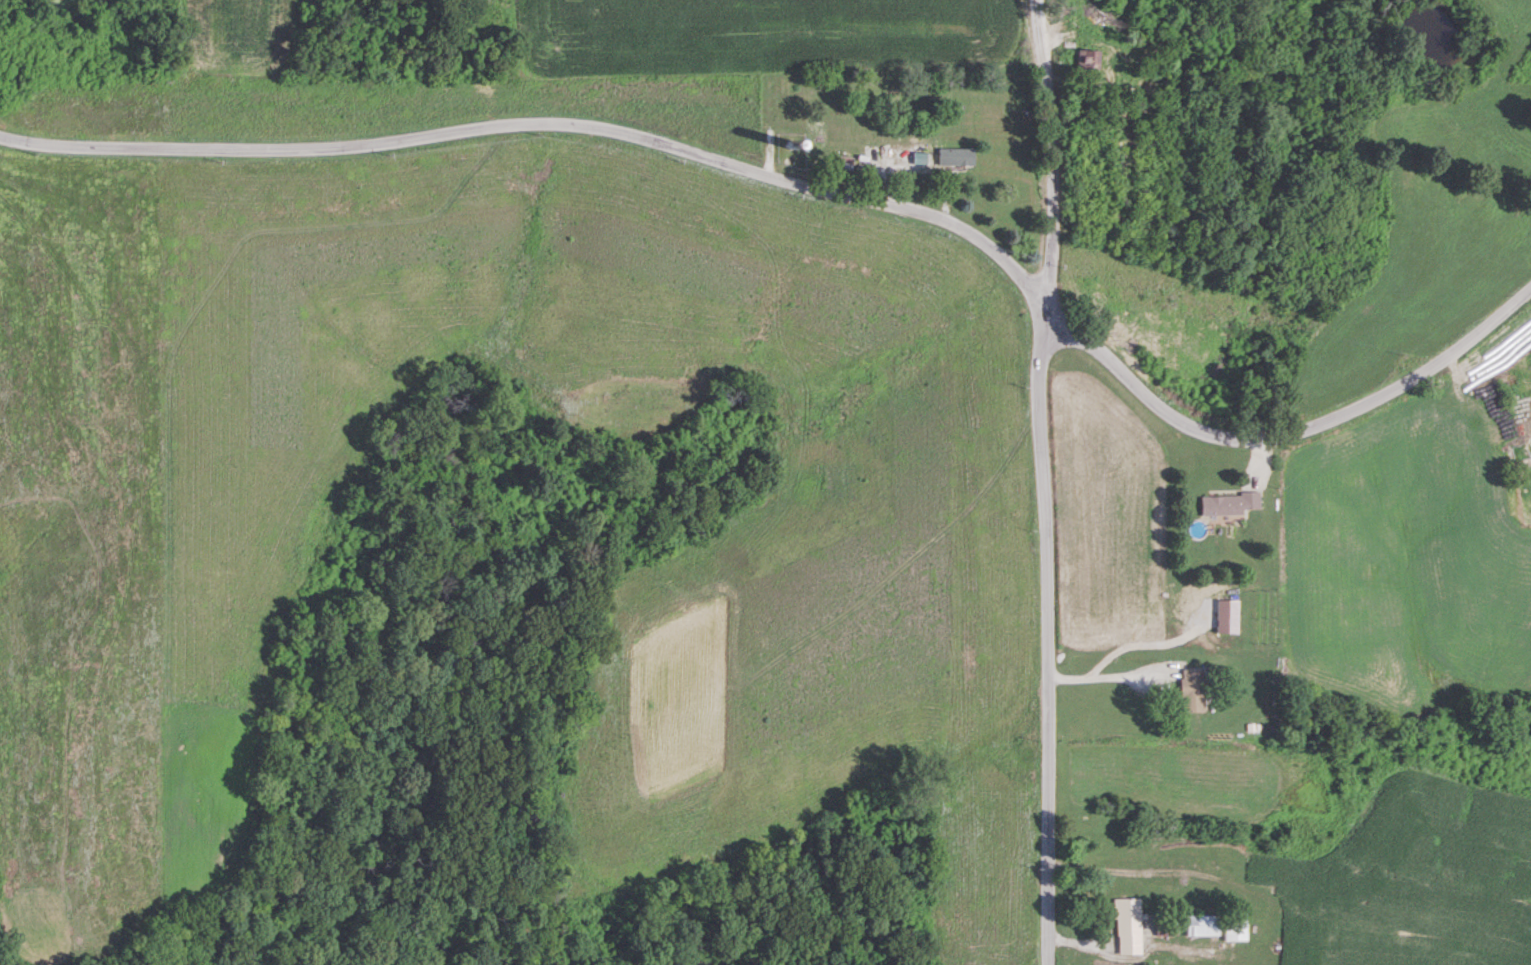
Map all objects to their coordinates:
road: (543, 125)
water tower: (794, 144)
road: (1052, 151)
building: (921, 153)
building: (956, 156)
road: (1287, 431)
building: (1228, 504)
road: (1047, 634)
road: (1151, 641)
road: (1111, 673)
building: (1192, 689)
building: (1203, 924)
building: (1127, 925)
building: (1235, 926)
crop: (925, 964)

